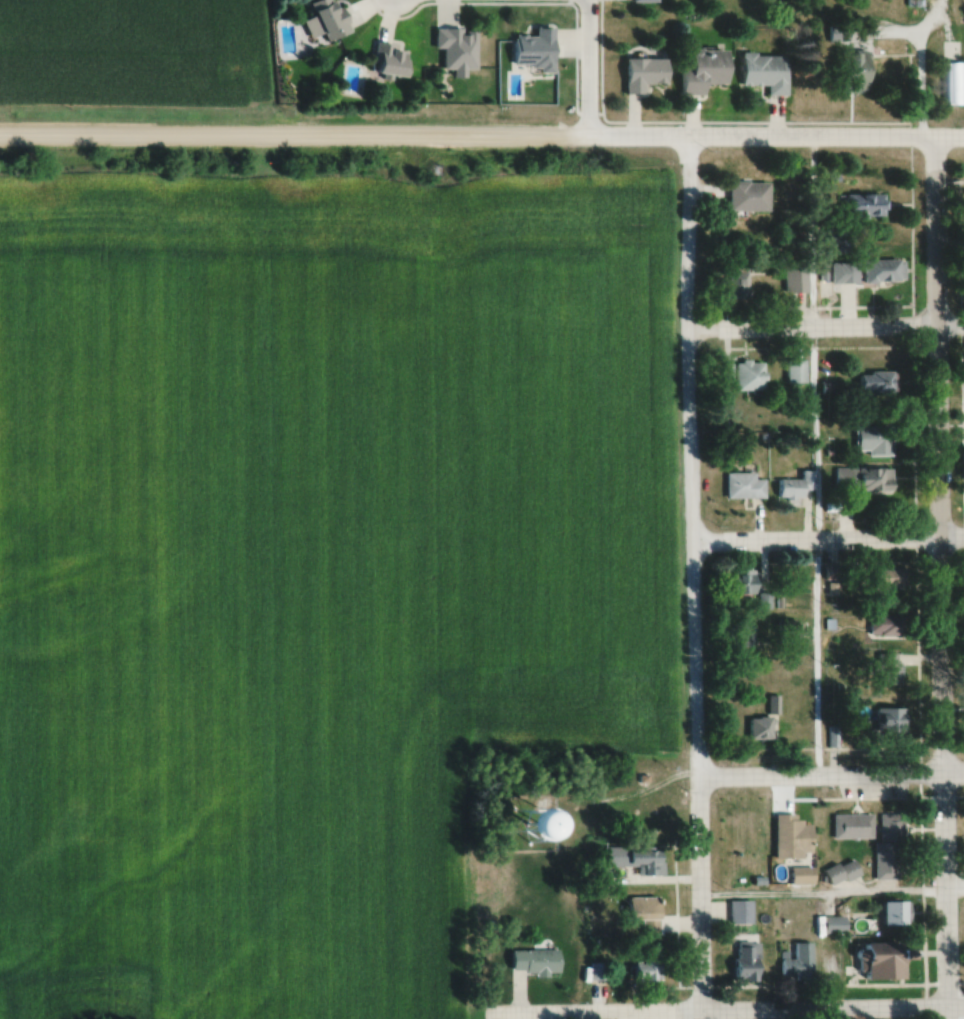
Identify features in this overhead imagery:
building: (638, 0)
building: (913, 3)
building: (323, 19)
building: (455, 48)
building: (533, 50)
building: (386, 61)
road: (918, 63)
road: (585, 71)
building: (701, 71)
building: (849, 71)
building: (764, 73)
building: (641, 74)
building: (949, 81)
road: (293, 141)
road: (775, 142)
building: (746, 197)
building: (860, 206)
building: (838, 241)
building: (882, 272)
building: (844, 273)
building: (794, 278)
building: (736, 282)
road: (825, 330)
road: (810, 343)
building: (794, 371)
building: (744, 376)
building: (876, 384)
building: (873, 440)
building: (863, 480)
building: (794, 486)
building: (742, 487)
road: (827, 544)
crop: (305, 567)
road: (692, 580)
building: (885, 580)
road: (941, 580)
building: (739, 583)
building: (885, 627)
building: (739, 633)
road: (815, 661)
building: (887, 670)
building: (889, 721)
building: (758, 729)
building: (836, 737)
road: (831, 777)
water tower: (529, 822)
building: (851, 827)
building: (514, 828)
building: (789, 839)
building: (888, 849)
building: (633, 861)
building: (842, 874)
building: (799, 877)
road: (831, 894)
building: (639, 910)
building: (739, 913)
building: (891, 915)
building: (832, 925)
building: (532, 962)
building: (744, 963)
building: (796, 963)
building: (877, 963)
building: (643, 971)
building: (595, 972)
road: (725, 1013)

